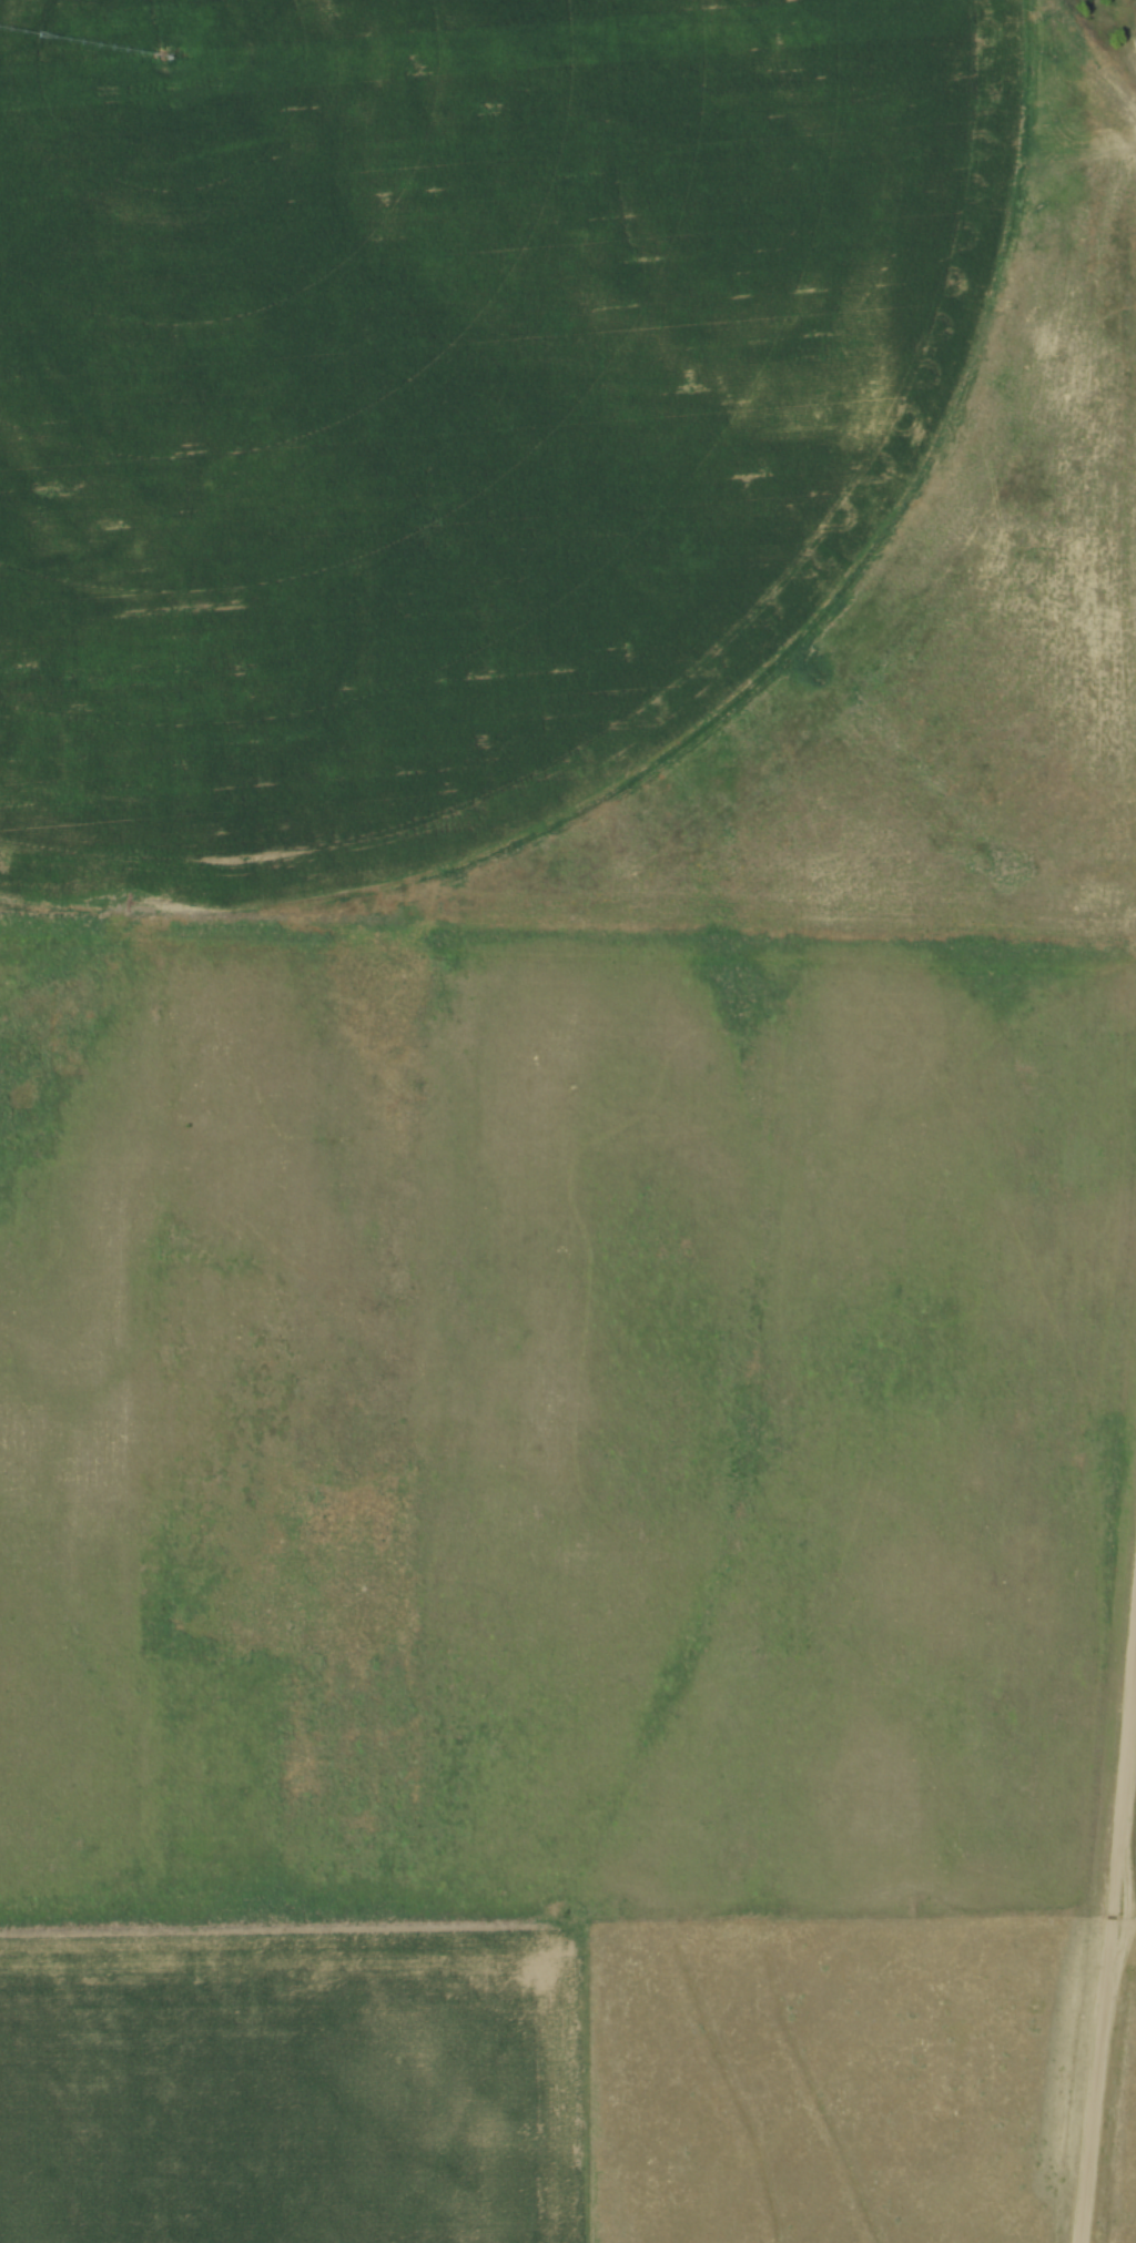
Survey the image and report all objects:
road: (1112, 1949)

